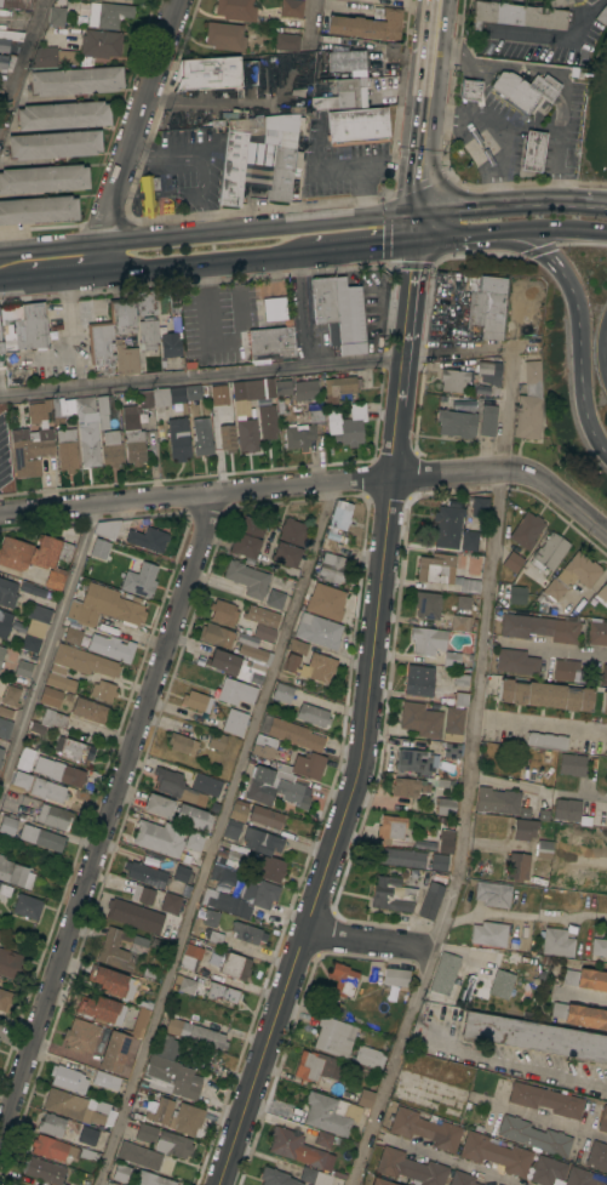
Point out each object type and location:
building: (17, 4)
building: (291, 7)
building: (235, 10)
building: (108, 15)
building: (517, 15)
building: (602, 15)
building: (56, 16)
road: (310, 19)
building: (368, 24)
building: (11, 35)
building: (225, 35)
road: (554, 39)
building: (286, 41)
building: (98, 45)
building: (52, 57)
road: (452, 57)
building: (345, 58)
road: (21, 62)
building: (2, 69)
building: (247, 69)
building: (208, 73)
road: (471, 73)
building: (75, 80)
building: (294, 89)
building: (523, 89)
gas station: (523, 89)
building: (470, 90)
road: (470, 90)
building: (343, 93)
road: (426, 104)
road: (468, 109)
building: (62, 115)
road: (138, 120)
road: (511, 123)
building: (357, 125)
road: (479, 141)
building: (53, 144)
building: (480, 144)
road: (143, 147)
road: (184, 147)
building: (532, 150)
building: (237, 156)
road: (197, 163)
road: (555, 163)
road: (391, 166)
road: (342, 172)
building: (280, 173)
building: (42, 178)
building: (147, 194)
road: (147, 194)
road: (127, 195)
road: (508, 200)
road: (603, 204)
building: (38, 209)
traffic signals: (417, 209)
road: (200, 210)
road: (417, 223)
road: (259, 226)
road: (559, 227)
road: (463, 233)
traffic signals: (417, 239)
road: (354, 246)
road: (51, 247)
road: (99, 257)
road: (195, 263)
road: (52, 278)
road: (4, 281)
building: (145, 300)
building: (271, 304)
building: (486, 304)
building: (325, 306)
building: (173, 308)
building: (349, 317)
building: (27, 327)
road: (578, 329)
building: (110, 331)
building: (148, 332)
building: (267, 343)
building: (170, 344)
road: (601, 348)
building: (1, 353)
road: (403, 357)
building: (126, 358)
road: (254, 370)
building: (488, 371)
building: (454, 380)
building: (340, 383)
building: (282, 387)
building: (305, 389)
building: (485, 389)
building: (196, 392)
building: (251, 393)
building: (218, 394)
building: (528, 403)
building: (468, 404)
building: (280, 406)
road: (506, 408)
building: (38, 410)
building: (102, 411)
building: (488, 420)
building: (130, 421)
building: (268, 421)
building: (456, 422)
building: (347, 423)
building: (82, 426)
building: (303, 431)
building: (247, 434)
building: (201, 437)
building: (228, 437)
building: (178, 438)
building: (67, 449)
building: (111, 449)
building: (30, 450)
parking lot: (2, 458)
road: (508, 468)
road: (194, 495)
building: (479, 503)
building: (340, 515)
building: (447, 517)
building: (108, 529)
building: (526, 529)
building: (247, 536)
building: (333, 536)
building: (148, 539)
building: (469, 539)
building: (290, 542)
building: (101, 548)
building: (549, 552)
building: (36, 556)
building: (512, 562)
building: (468, 563)
building: (333, 568)
building: (435, 568)
building: (578, 572)
building: (247, 577)
building: (139, 580)
building: (470, 586)
building: (32, 588)
building: (551, 589)
building: (7, 592)
building: (602, 593)
building: (517, 594)
building: (275, 599)
building: (325, 600)
building: (462, 602)
building: (428, 604)
building: (104, 606)
building: (542, 609)
building: (223, 611)
building: (260, 615)
building: (5, 622)
building: (460, 622)
building: (542, 626)
building: (35, 627)
building: (317, 629)
building: (263, 632)
building: (596, 632)
building: (71, 634)
building: (244, 638)
building: (428, 639)
building: (233, 643)
road: (47, 645)
building: (297, 645)
building: (110, 646)
road: (571, 649)
building: (1, 651)
building: (451, 659)
building: (516, 661)
building: (78, 663)
building: (236, 666)
building: (310, 666)
building: (24, 668)
building: (566, 670)
building: (603, 674)
building: (418, 679)
building: (460, 679)
building: (103, 690)
building: (235, 691)
building: (282, 693)
building: (545, 695)
building: (11, 696)
building: (51, 696)
building: (199, 701)
building: (603, 702)
building: (90, 710)
building: (6, 712)
building: (313, 714)
building: (454, 717)
building: (420, 719)
building: (48, 720)
building: (235, 722)
road: (543, 727)
building: (5, 728)
building: (290, 733)
building: (216, 740)
building: (545, 740)
building: (182, 744)
building: (264, 747)
building: (74, 750)
building: (452, 750)
building: (1, 752)
building: (30, 753)
building: (416, 760)
building: (0, 762)
building: (572, 764)
building: (309, 765)
building: (280, 767)
building: (59, 771)
building: (22, 779)
building: (442, 782)
building: (172, 784)
building: (206, 784)
building: (410, 786)
road: (514, 786)
building: (277, 787)
building: (48, 790)
road: (579, 797)
building: (503, 801)
building: (403, 802)
building: (158, 804)
building: (446, 805)
building: (239, 809)
building: (567, 809)
road: (107, 810)
building: (22, 815)
building: (53, 816)
building: (193, 816)
building: (265, 816)
building: (7, 825)
building: (231, 828)
building: (391, 828)
building: (521, 828)
road: (216, 833)
road: (469, 834)
building: (40, 837)
building: (160, 837)
road: (336, 837)
building: (194, 839)
building: (445, 841)
building: (425, 845)
building: (239, 849)
building: (544, 849)
building: (265, 853)
building: (221, 855)
building: (580, 856)
building: (234, 858)
building: (399, 858)
building: (439, 861)
building: (519, 865)
building: (148, 870)
building: (15, 873)
building: (223, 873)
building: (179, 876)
building: (5, 889)
building: (260, 893)
building: (393, 894)
building: (144, 895)
building: (492, 895)
building: (172, 900)
building: (430, 900)
building: (227, 902)
building: (27, 906)
road: (585, 915)
building: (134, 916)
building: (211, 917)
building: (247, 933)
building: (489, 933)
building: (216, 936)
road: (370, 939)
building: (559, 941)
building: (599, 947)
building: (110, 950)
building: (190, 957)
building: (8, 963)
building: (235, 965)
building: (446, 974)
building: (396, 976)
building: (591, 979)
building: (343, 980)
building: (113, 981)
building: (500, 982)
building: (184, 984)
building: (222, 992)
road: (580, 997)
building: (5, 999)
building: (98, 1008)
building: (585, 1016)
building: (139, 1022)
building: (195, 1032)
building: (80, 1036)
building: (333, 1036)
building: (534, 1036)
building: (166, 1046)
building: (114, 1052)
building: (367, 1056)
building: (313, 1065)
road: (521, 1072)
building: (171, 1077)
building: (68, 1078)
building: (105, 1079)
building: (365, 1099)
building: (545, 1099)
building: (75, 1106)
building: (160, 1111)
building: (328, 1113)
building: (185, 1118)
building: (602, 1120)
road: (546, 1121)
building: (51, 1124)
building: (425, 1129)
building: (145, 1133)
building: (534, 1135)
building: (322, 1139)
building: (88, 1144)
building: (173, 1144)
building: (48, 1146)
building: (298, 1149)
building: (496, 1153)
building: (138, 1156)
building: (597, 1156)
road: (442, 1160)
building: (410, 1168)
building: (44, 1170)
building: (548, 1170)
building: (138, 1177)
building: (276, 1177)
building: (315, 1177)
building: (582, 1177)
building: (462, 1179)
building: (382, 1181)
building: (498, 1184)
building: (606, 1184)

